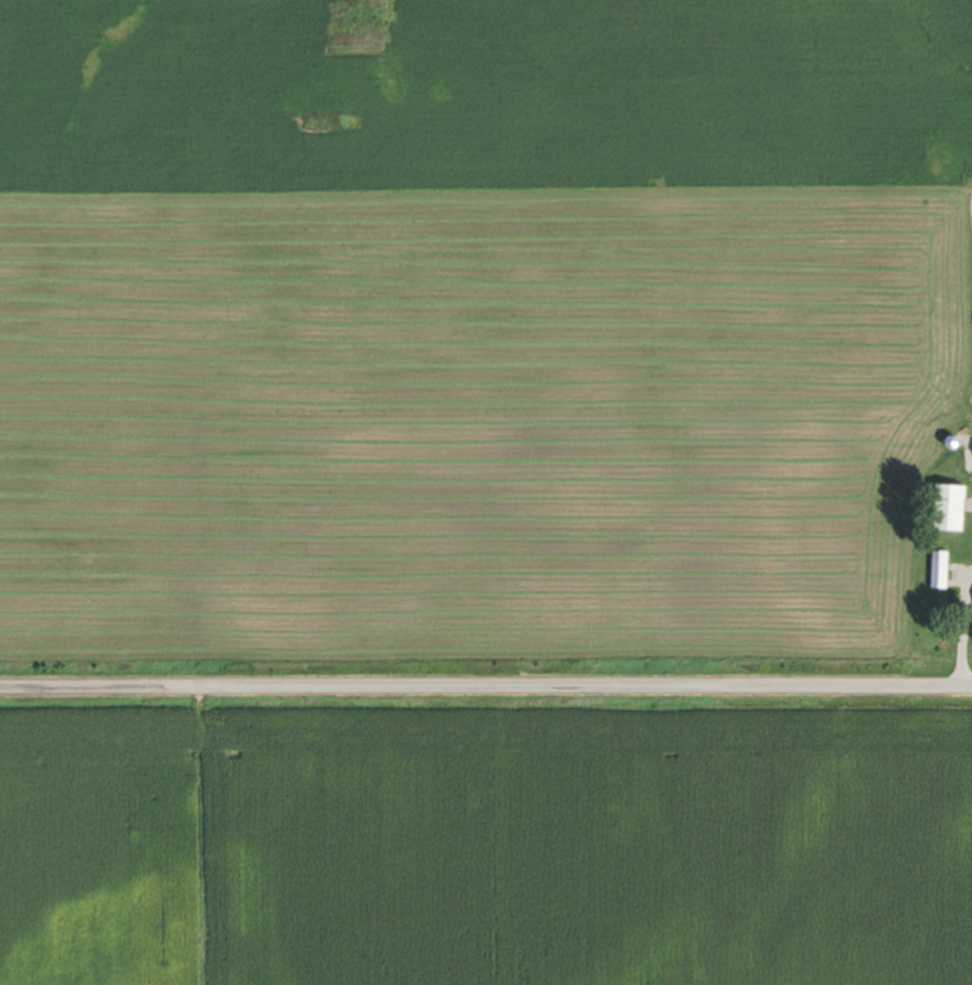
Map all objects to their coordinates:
building: (942, 512)
building: (934, 572)
road: (962, 635)
road: (485, 686)

